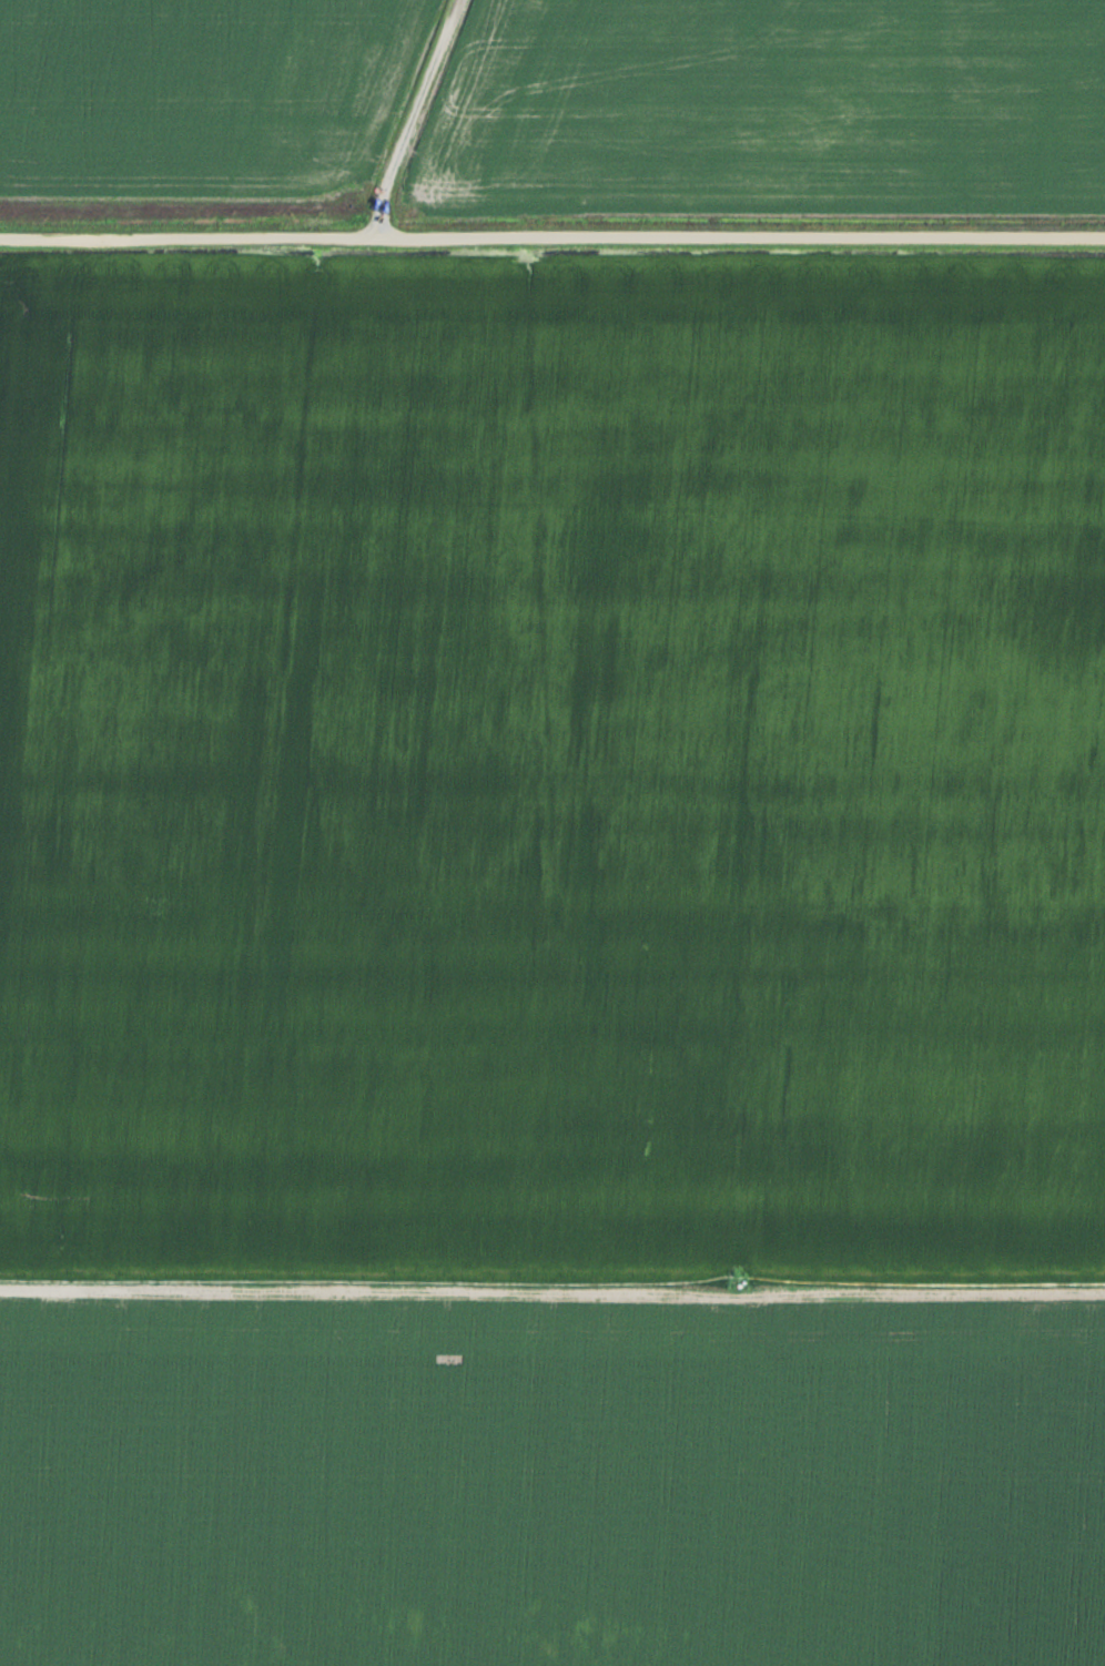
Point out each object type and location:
road: (410, 115)
road: (551, 234)

